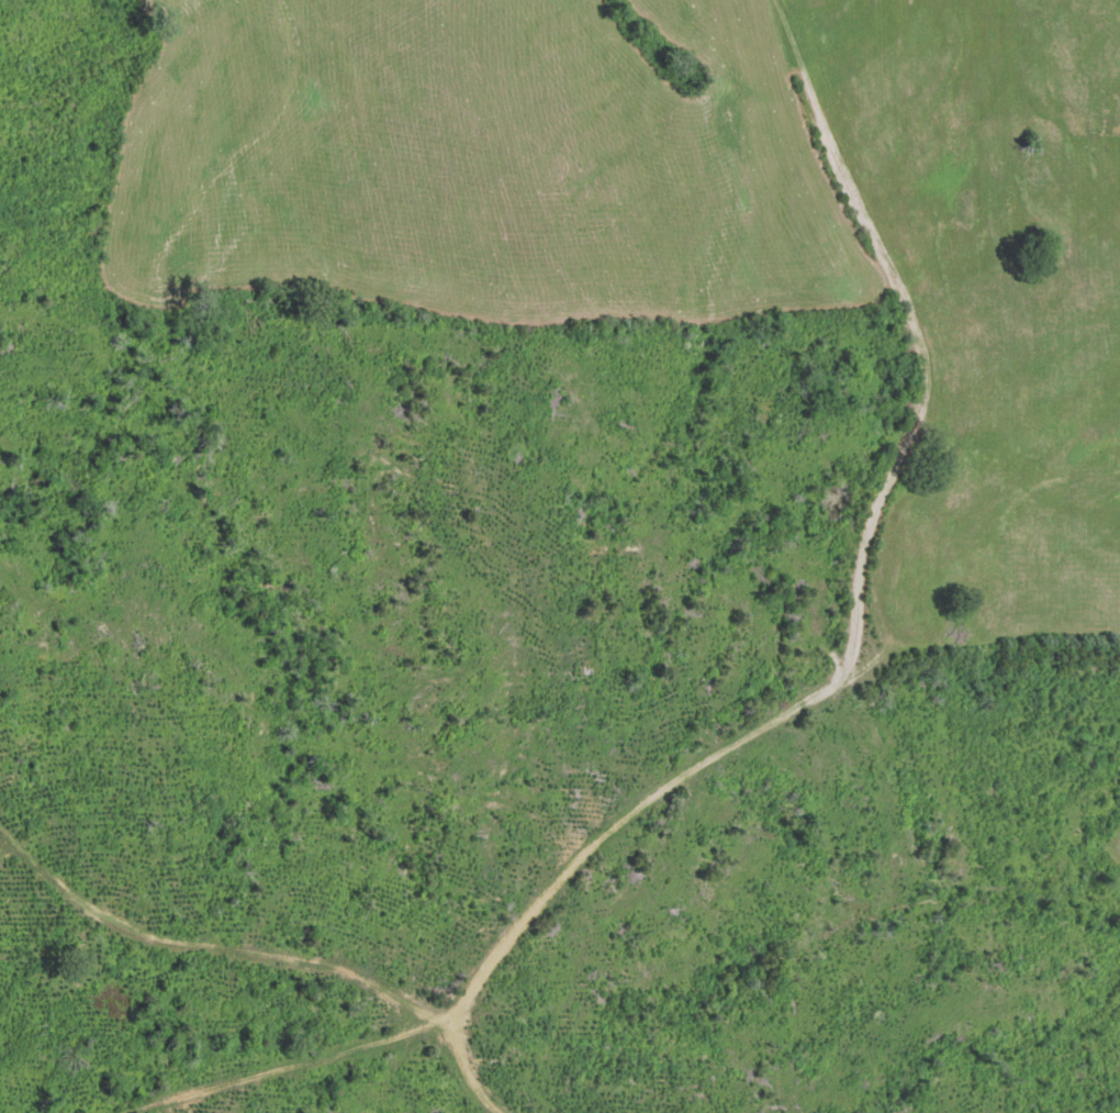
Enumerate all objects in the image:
road: (659, 683)

